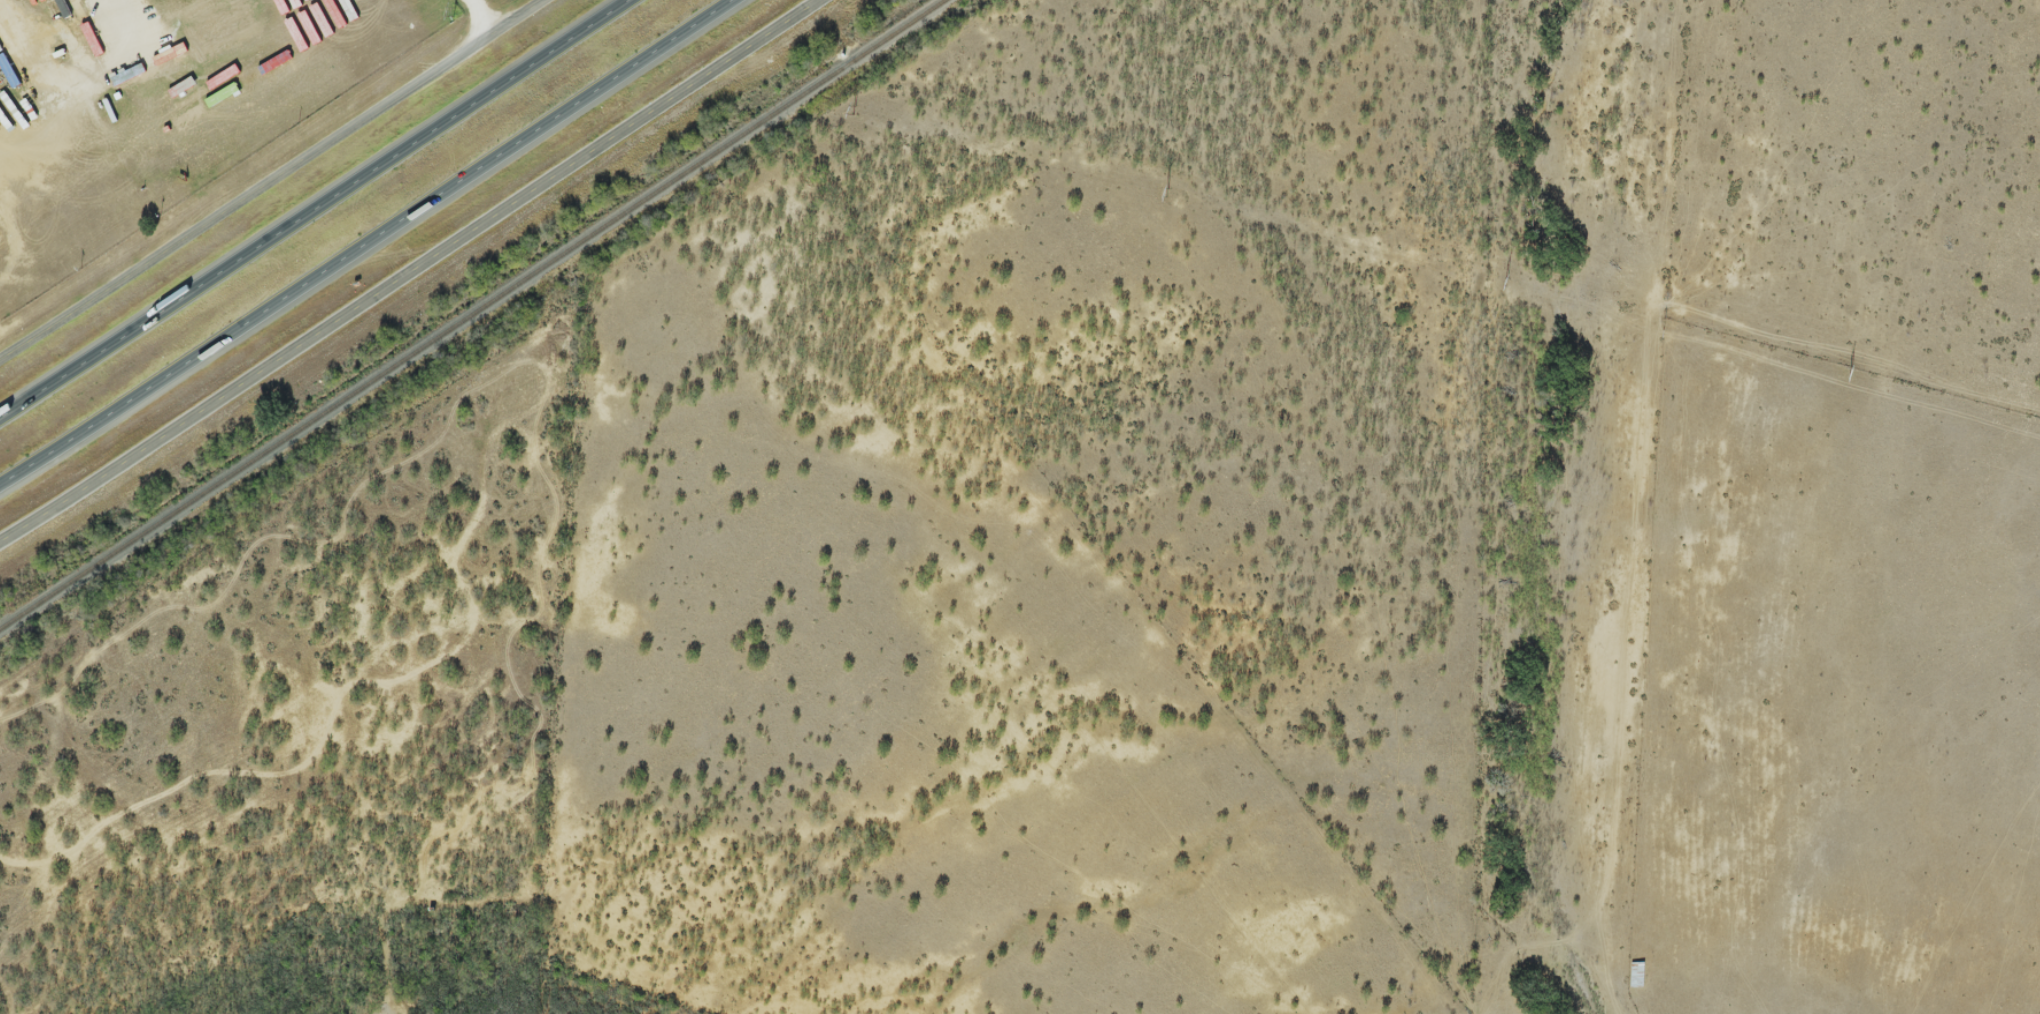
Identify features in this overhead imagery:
power tower: (454, 10)
road: (480, 19)
power tower: (855, 108)
road: (273, 181)
power tower: (1167, 190)
road: (309, 209)
road: (370, 247)
road: (411, 271)
power tower: (1507, 279)
railway: (473, 315)
power tower: (1852, 370)
building: (1638, 973)

